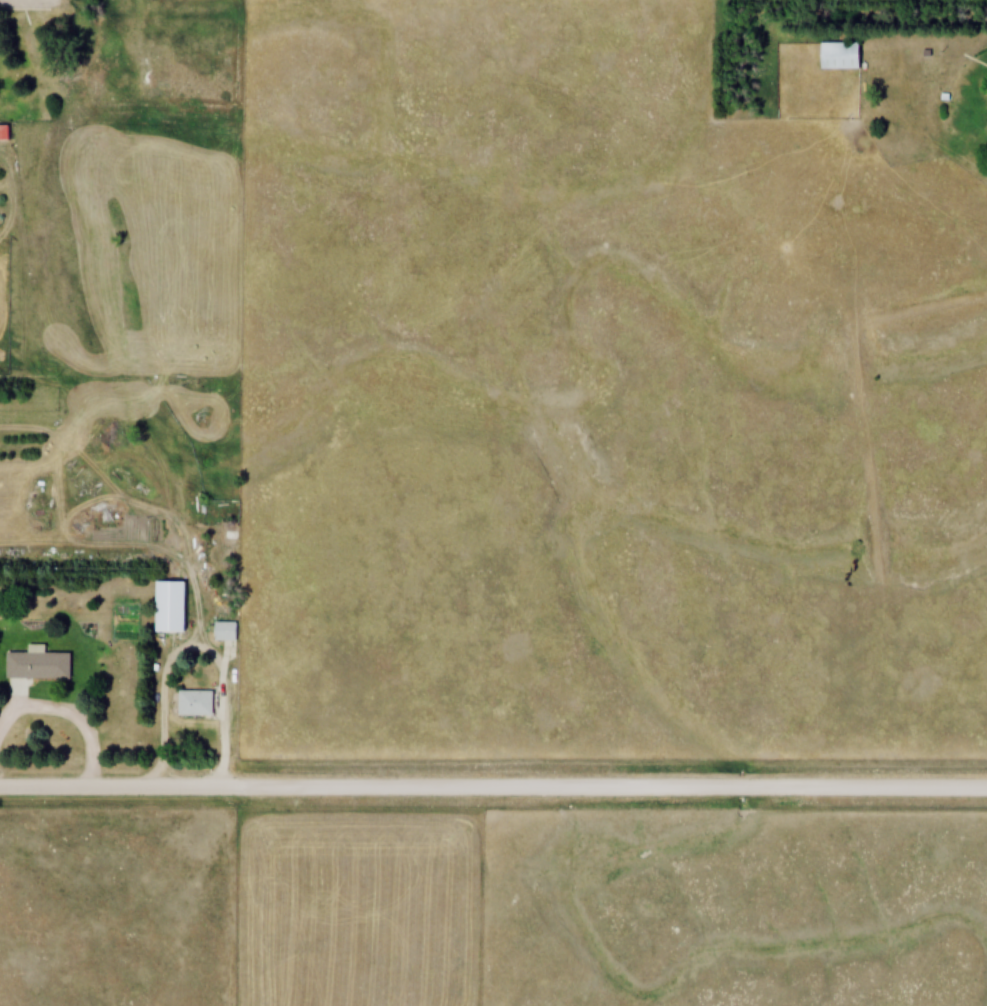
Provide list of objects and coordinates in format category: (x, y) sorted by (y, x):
building: (840, 55)
building: (227, 533)
road: (24, 553)
building: (171, 606)
building: (224, 631)
building: (37, 664)
building: (201, 702)
road: (70, 713)
road: (219, 719)
road: (493, 786)

